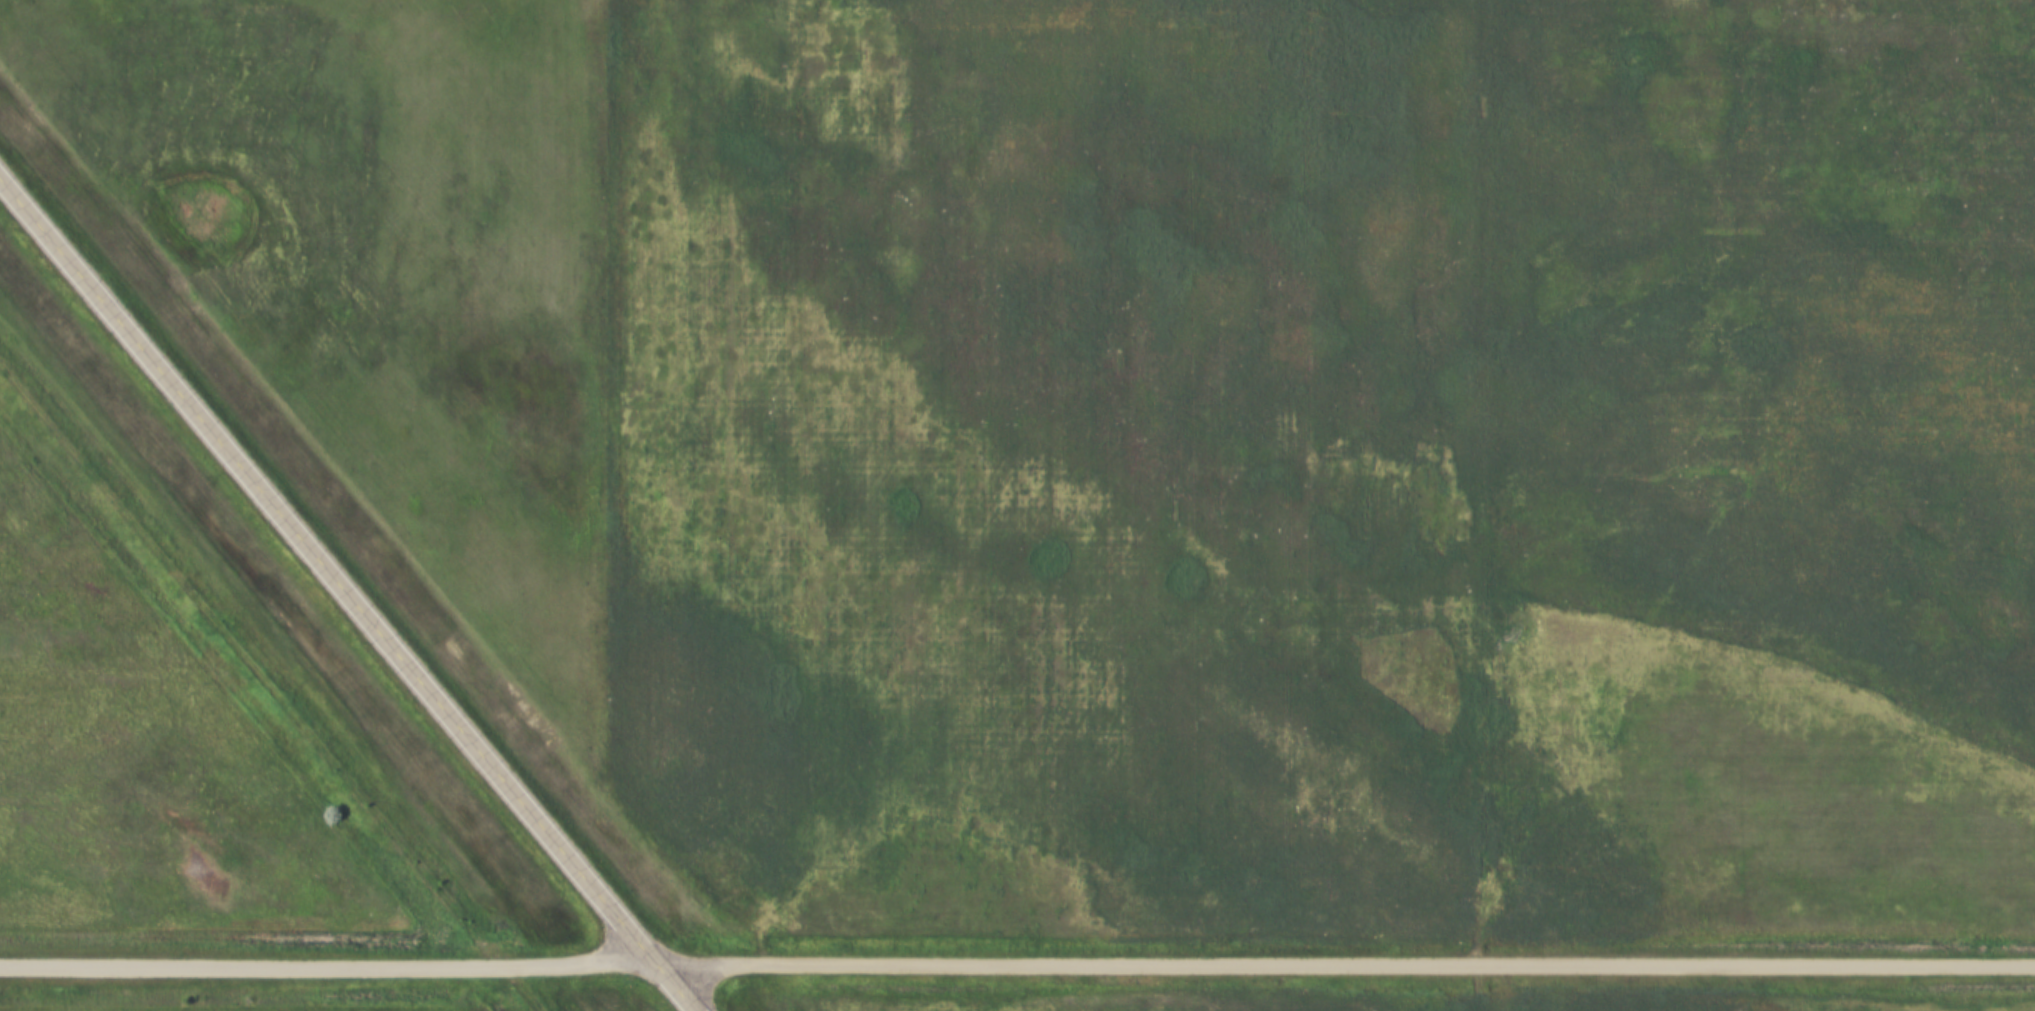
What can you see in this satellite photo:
road: (609, 484)
road: (349, 591)
road: (1017, 964)

